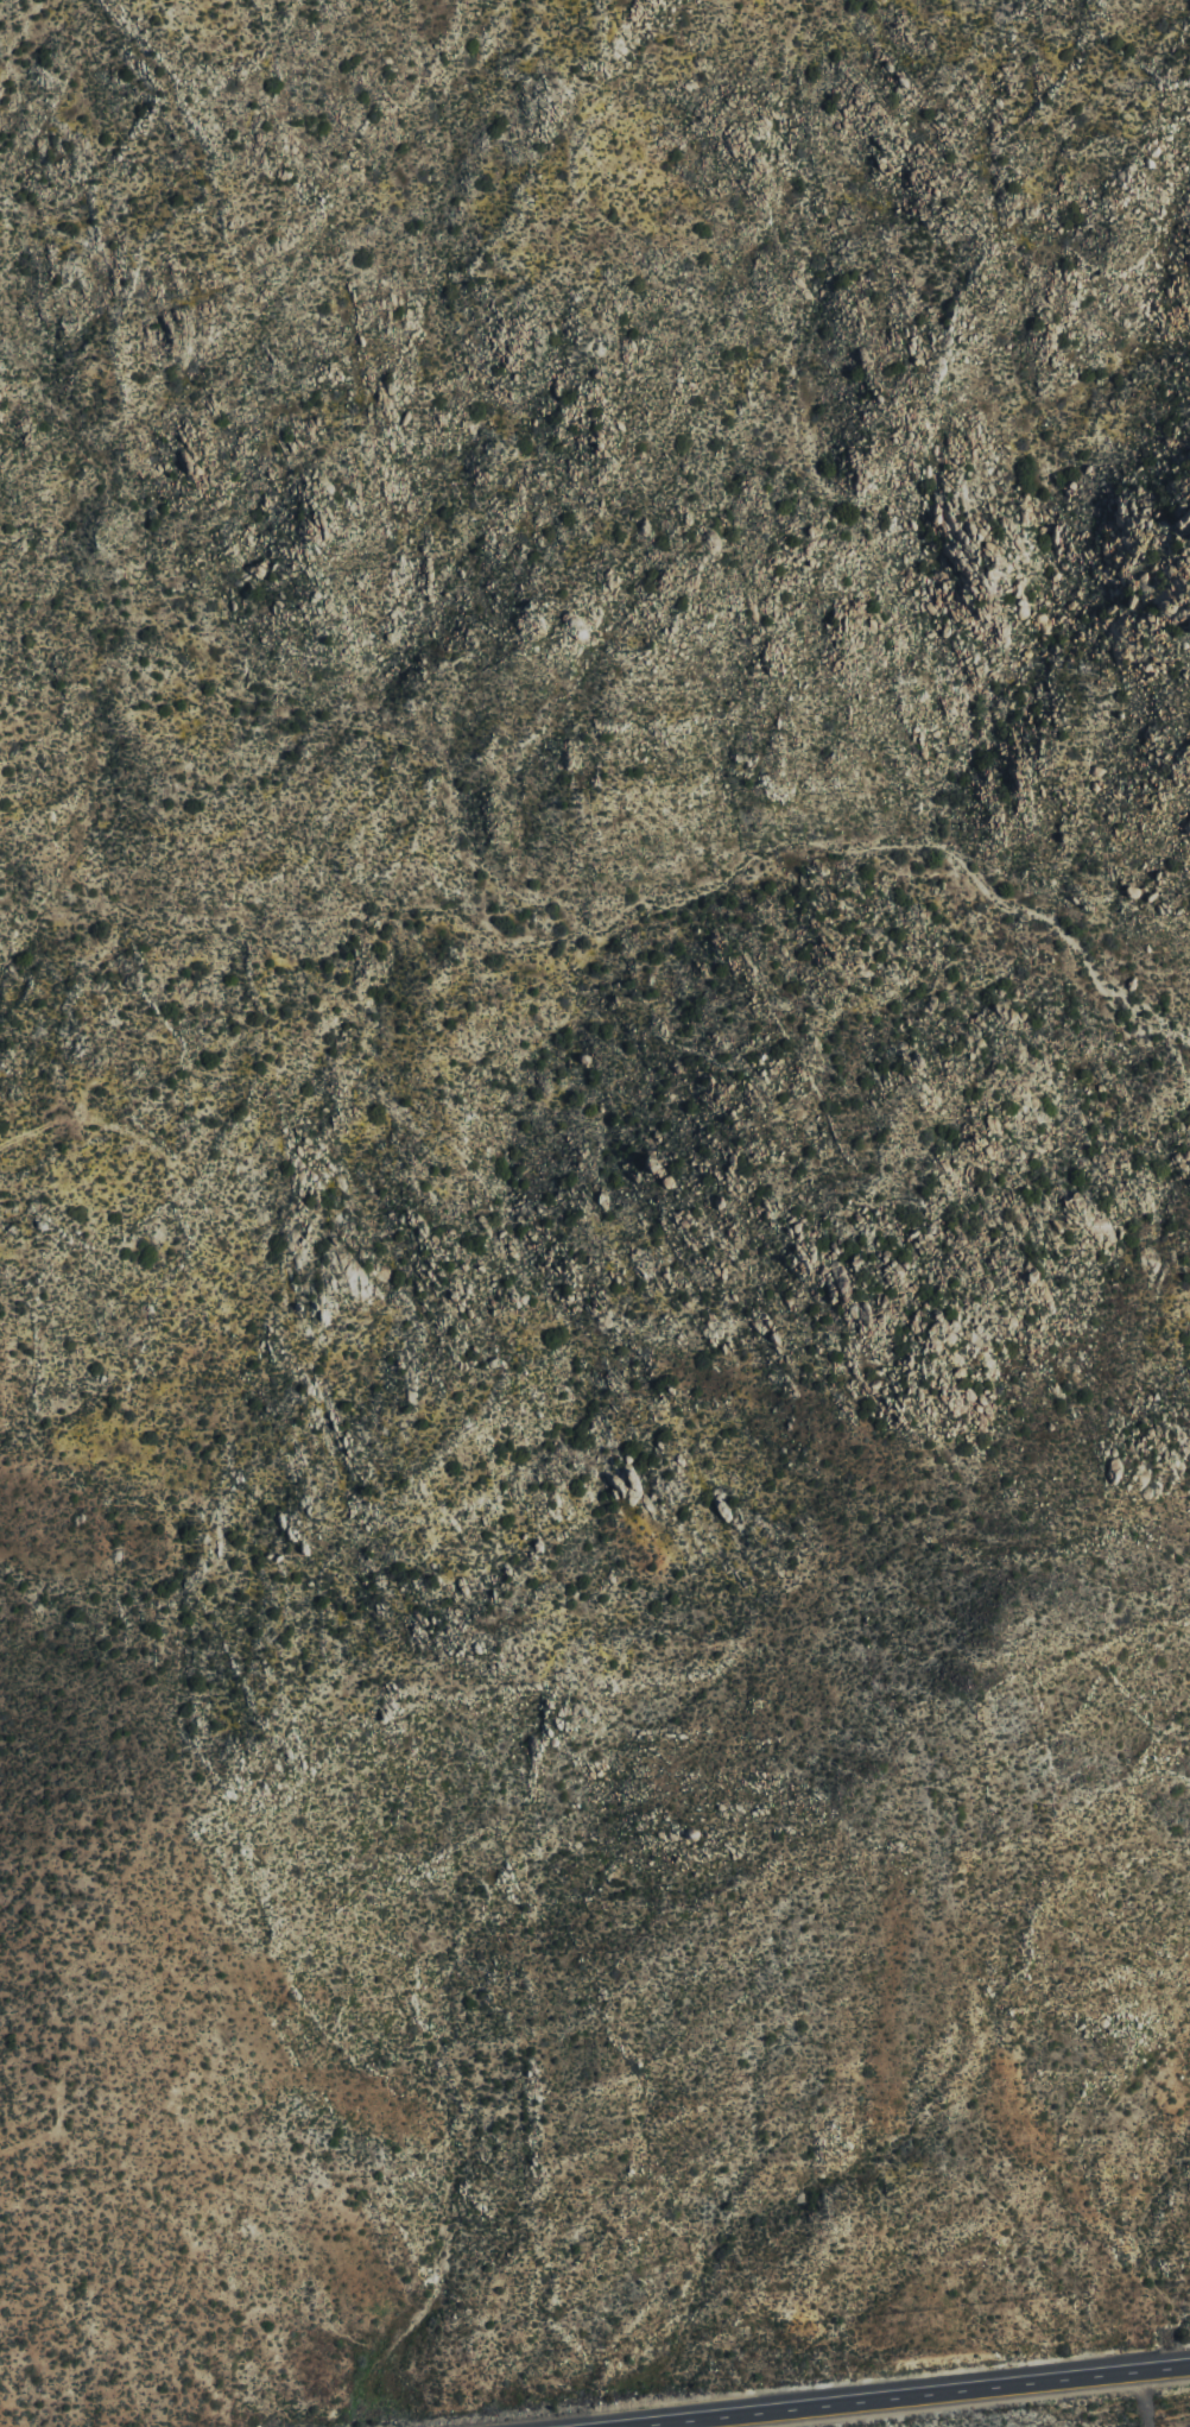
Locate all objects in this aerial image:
road: (898, 2395)

